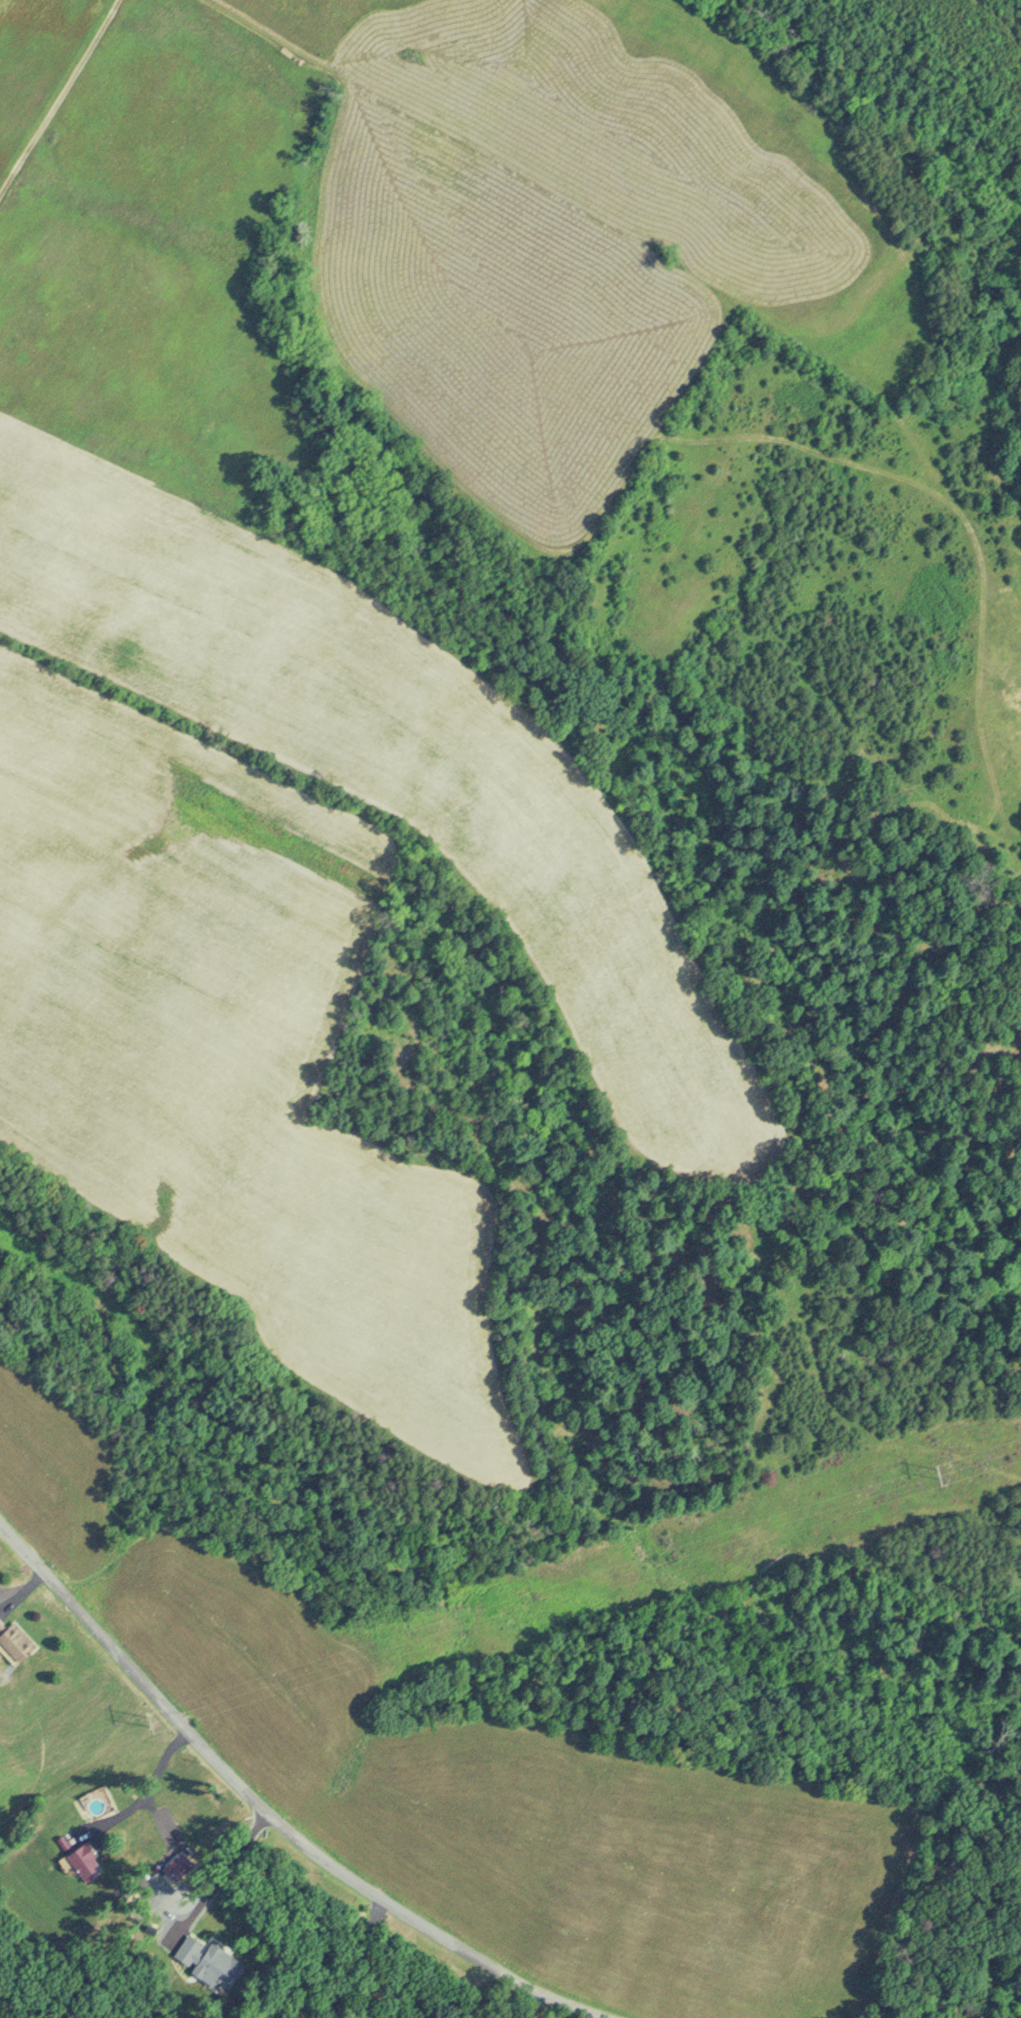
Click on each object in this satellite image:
crop: (36, 56)
crop: (675, 146)
crop: (494, 302)
crop: (149, 564)
crop: (223, 1049)
road: (27, 1589)
building: (15, 1638)
road: (148, 1787)
crop: (487, 1787)
road: (262, 1814)
building: (80, 1862)
road: (222, 1875)
building: (187, 1949)
building: (218, 1964)

